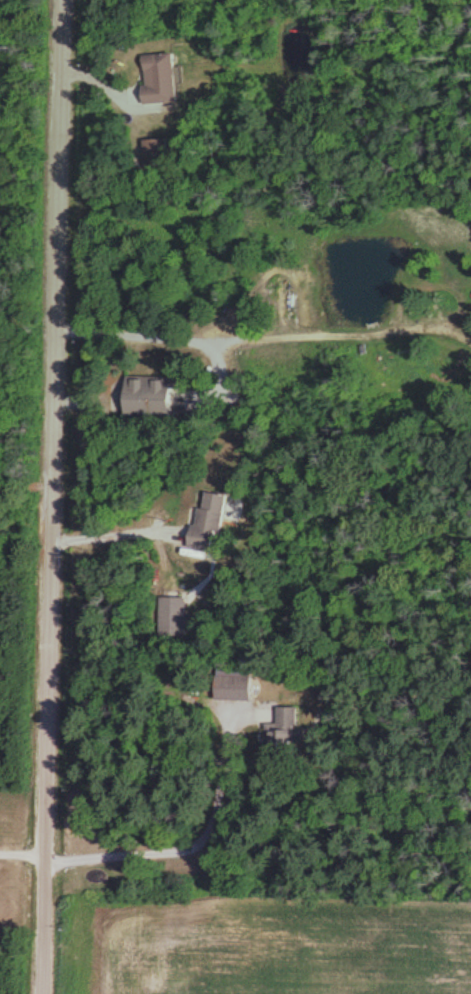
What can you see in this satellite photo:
building: (151, 76)
building: (141, 395)
road: (45, 496)
building: (198, 520)
road: (107, 532)
building: (167, 615)
building: (280, 718)
road: (188, 842)
road: (20, 853)

